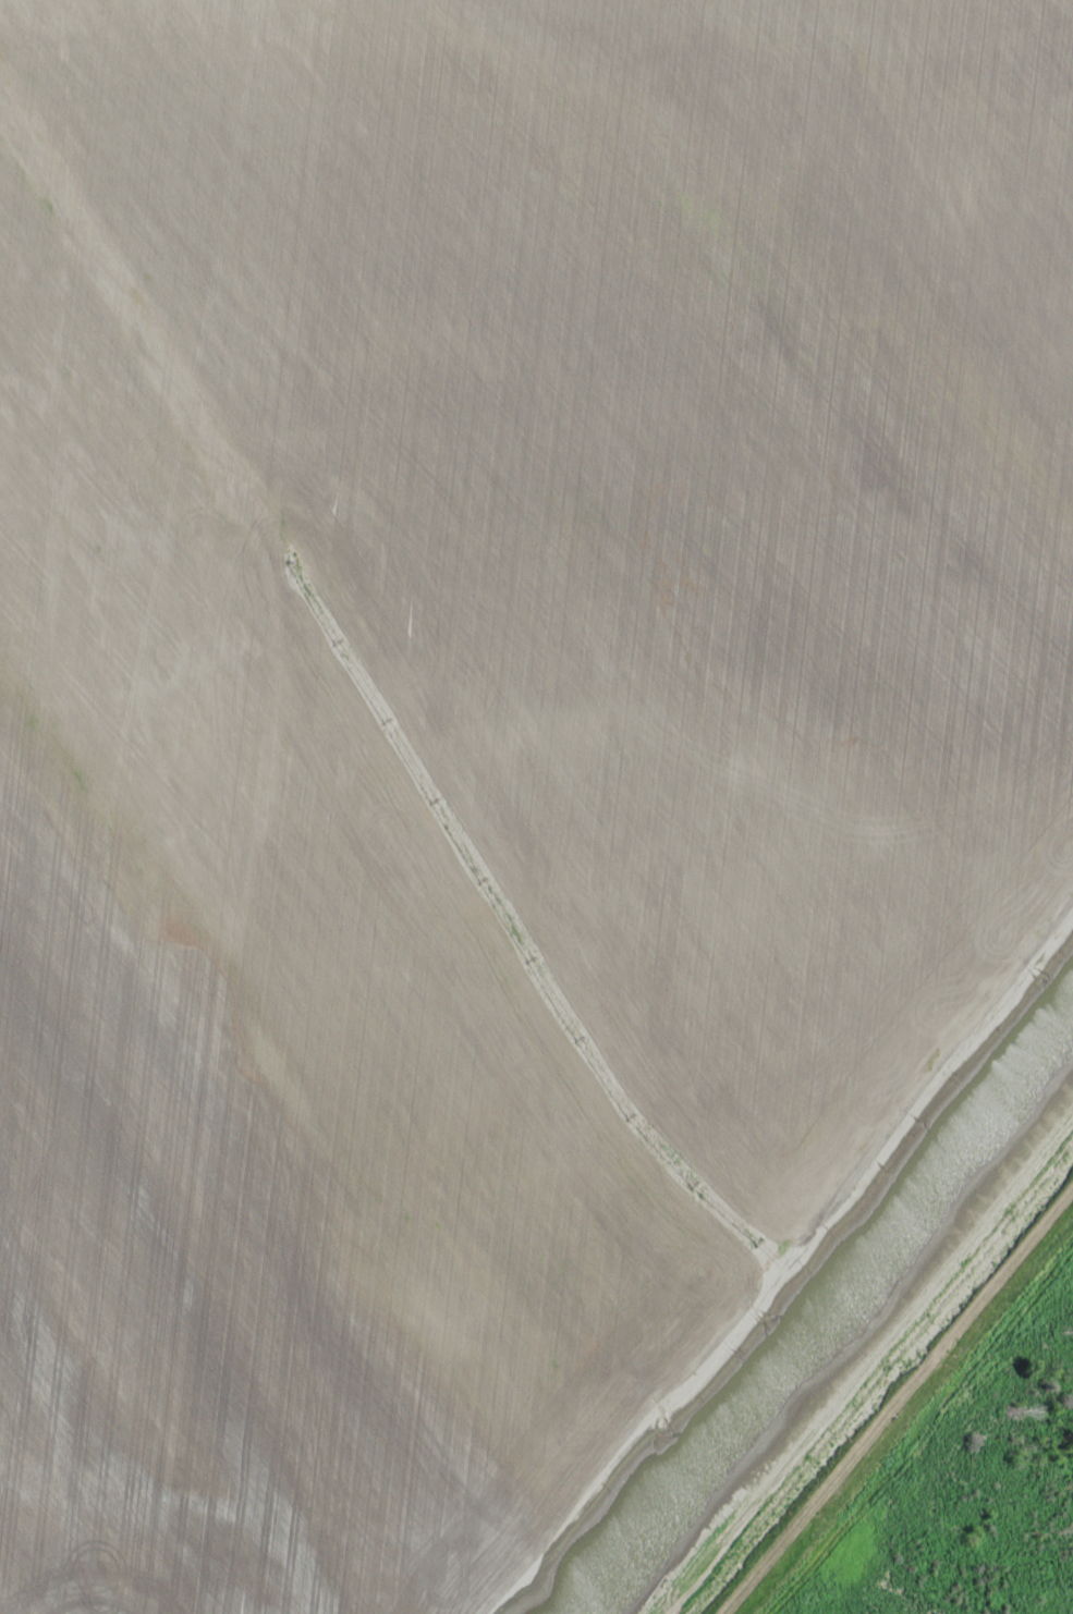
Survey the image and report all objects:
road: (996, 9)
road: (898, 1402)

